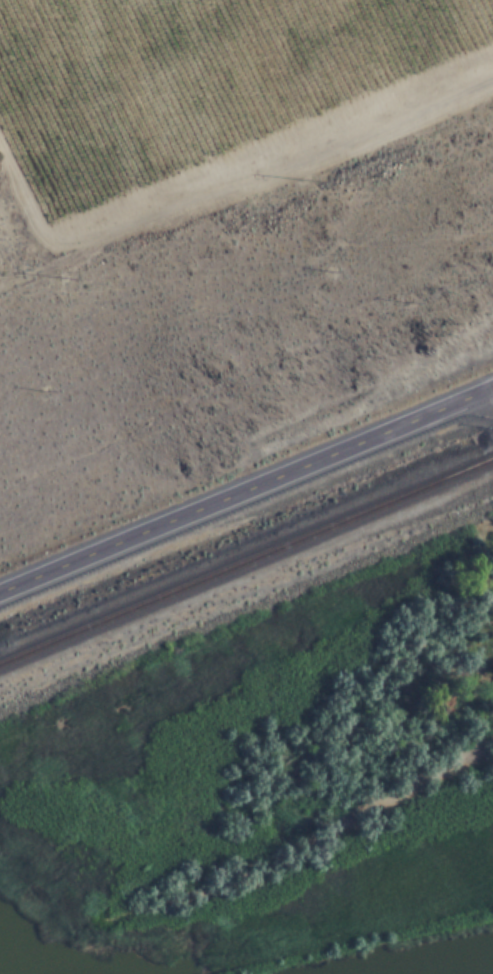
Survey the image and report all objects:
road: (247, 493)
railway: (246, 563)
railway: (384, 947)

